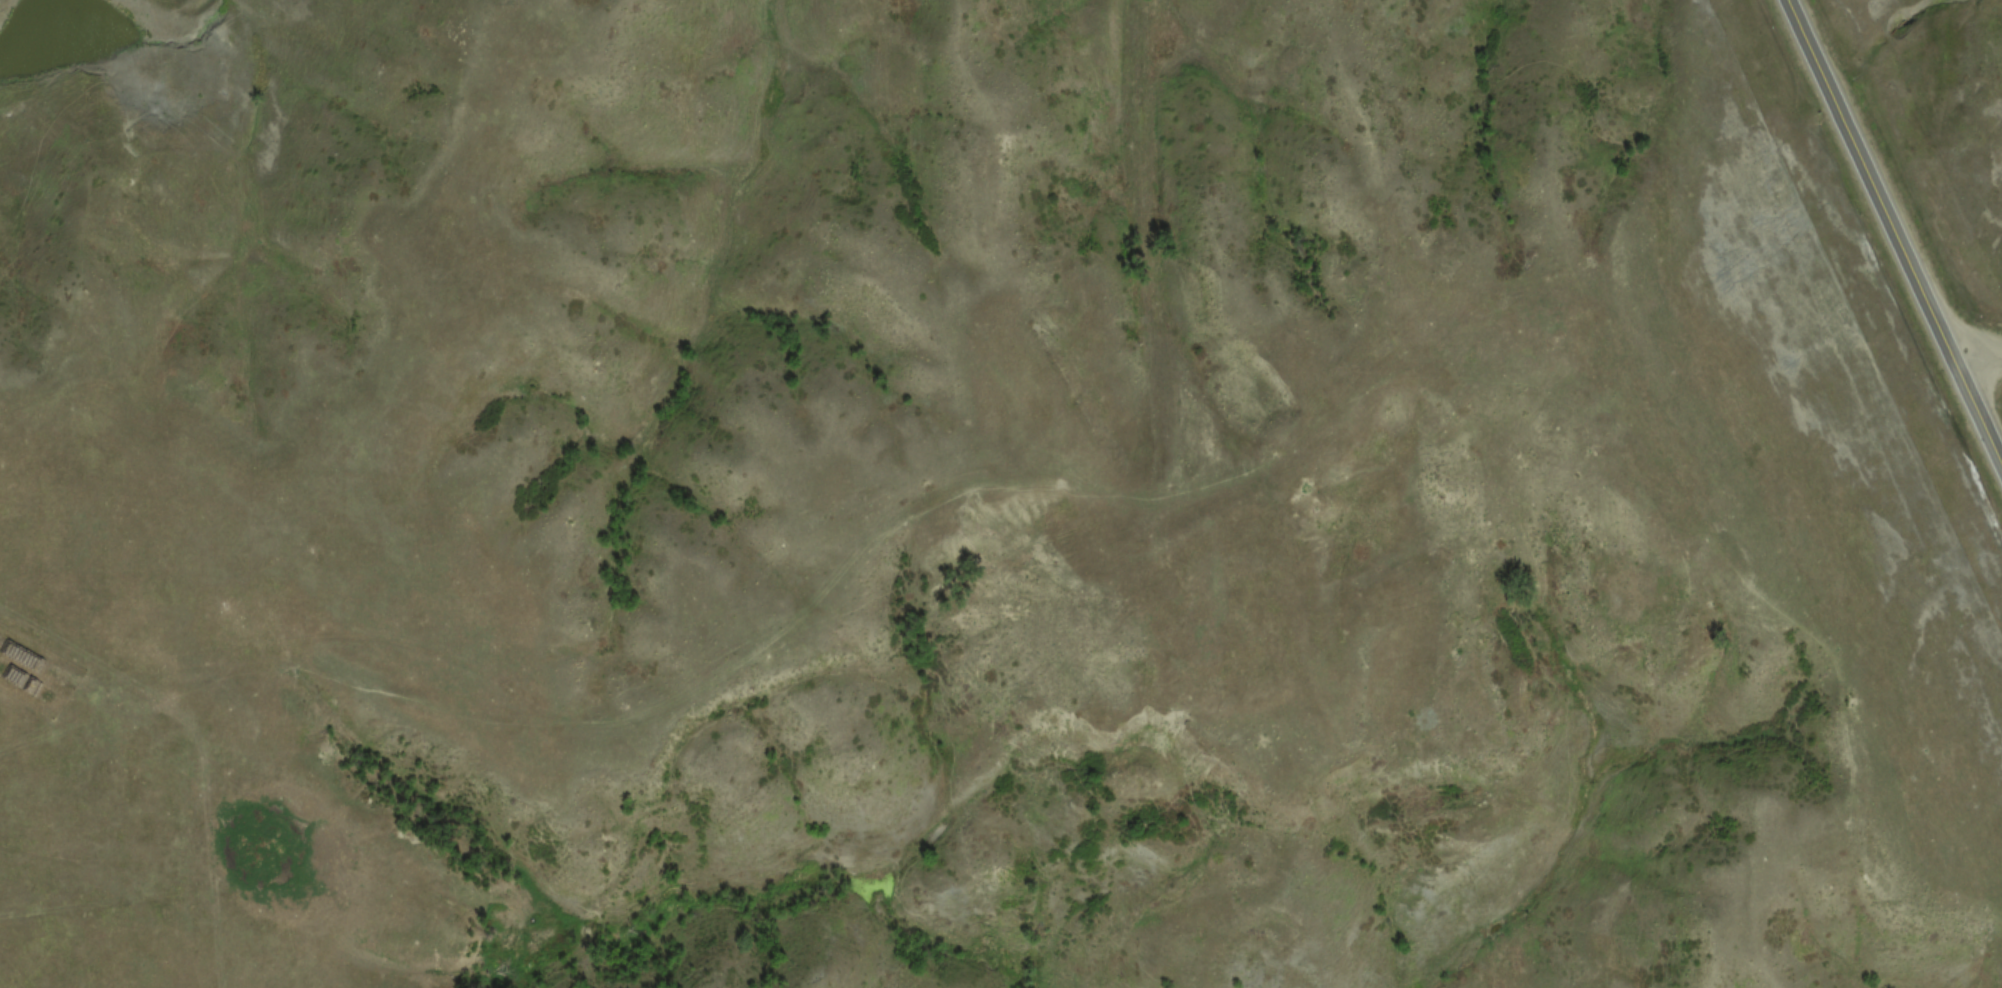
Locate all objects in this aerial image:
road: (1894, 231)

